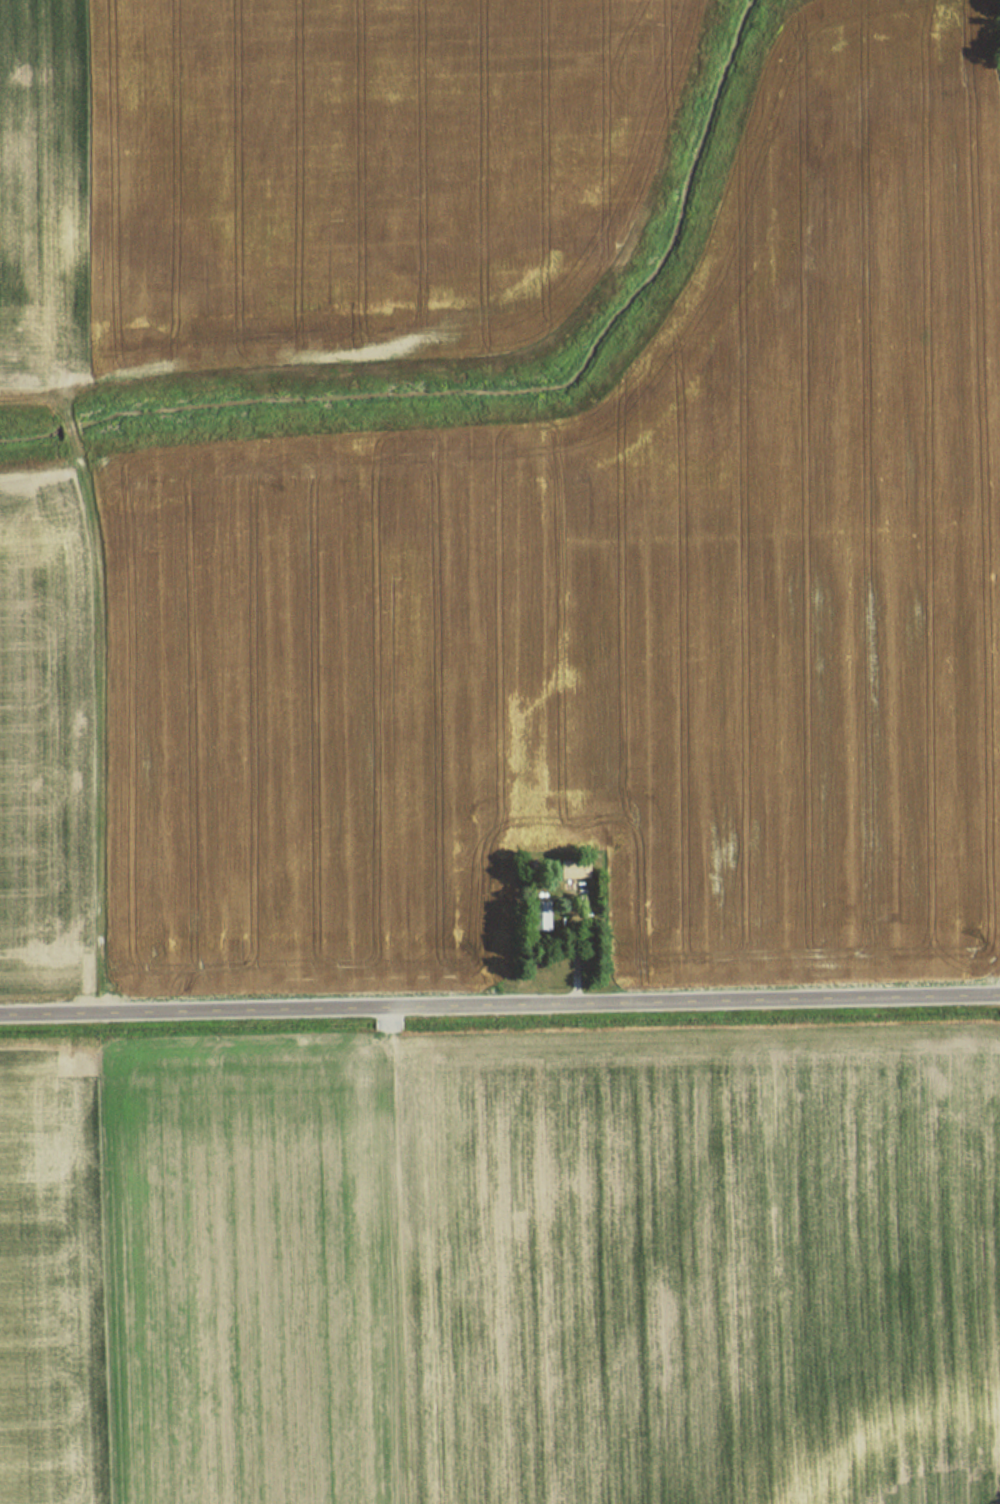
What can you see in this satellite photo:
crop: (363, 170)
crop: (42, 186)
crop: (611, 603)
crop: (46, 735)
road: (500, 1004)
crop: (557, 1267)
crop: (53, 1281)

